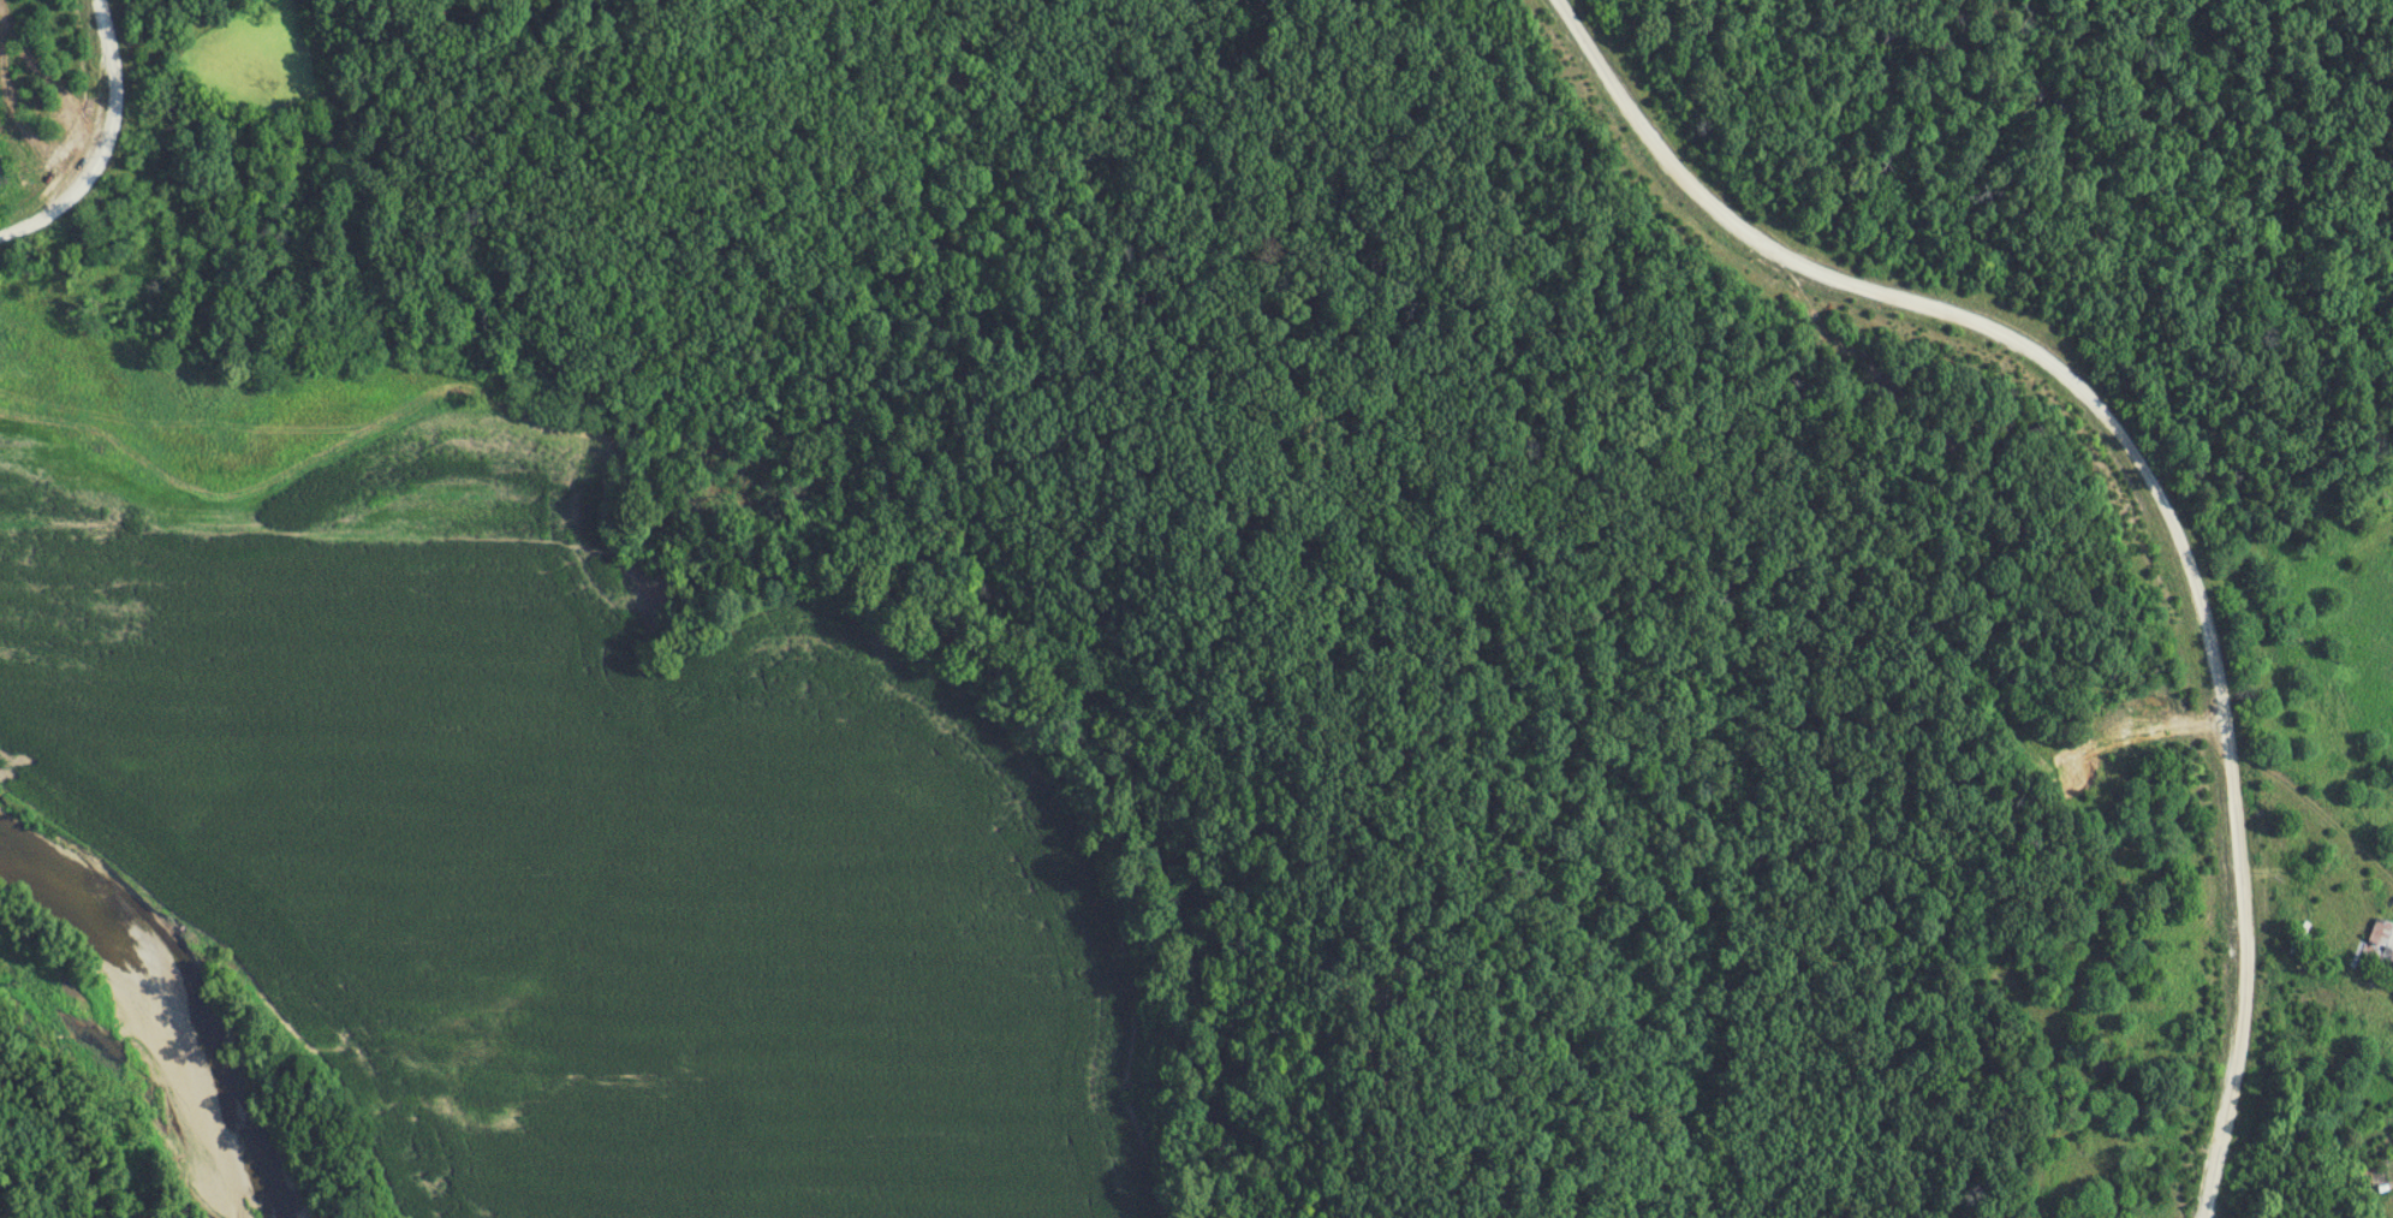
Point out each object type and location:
road: (90, 141)
road: (1964, 322)
road: (2318, 810)
building: (2380, 947)
road: (2232, 991)

